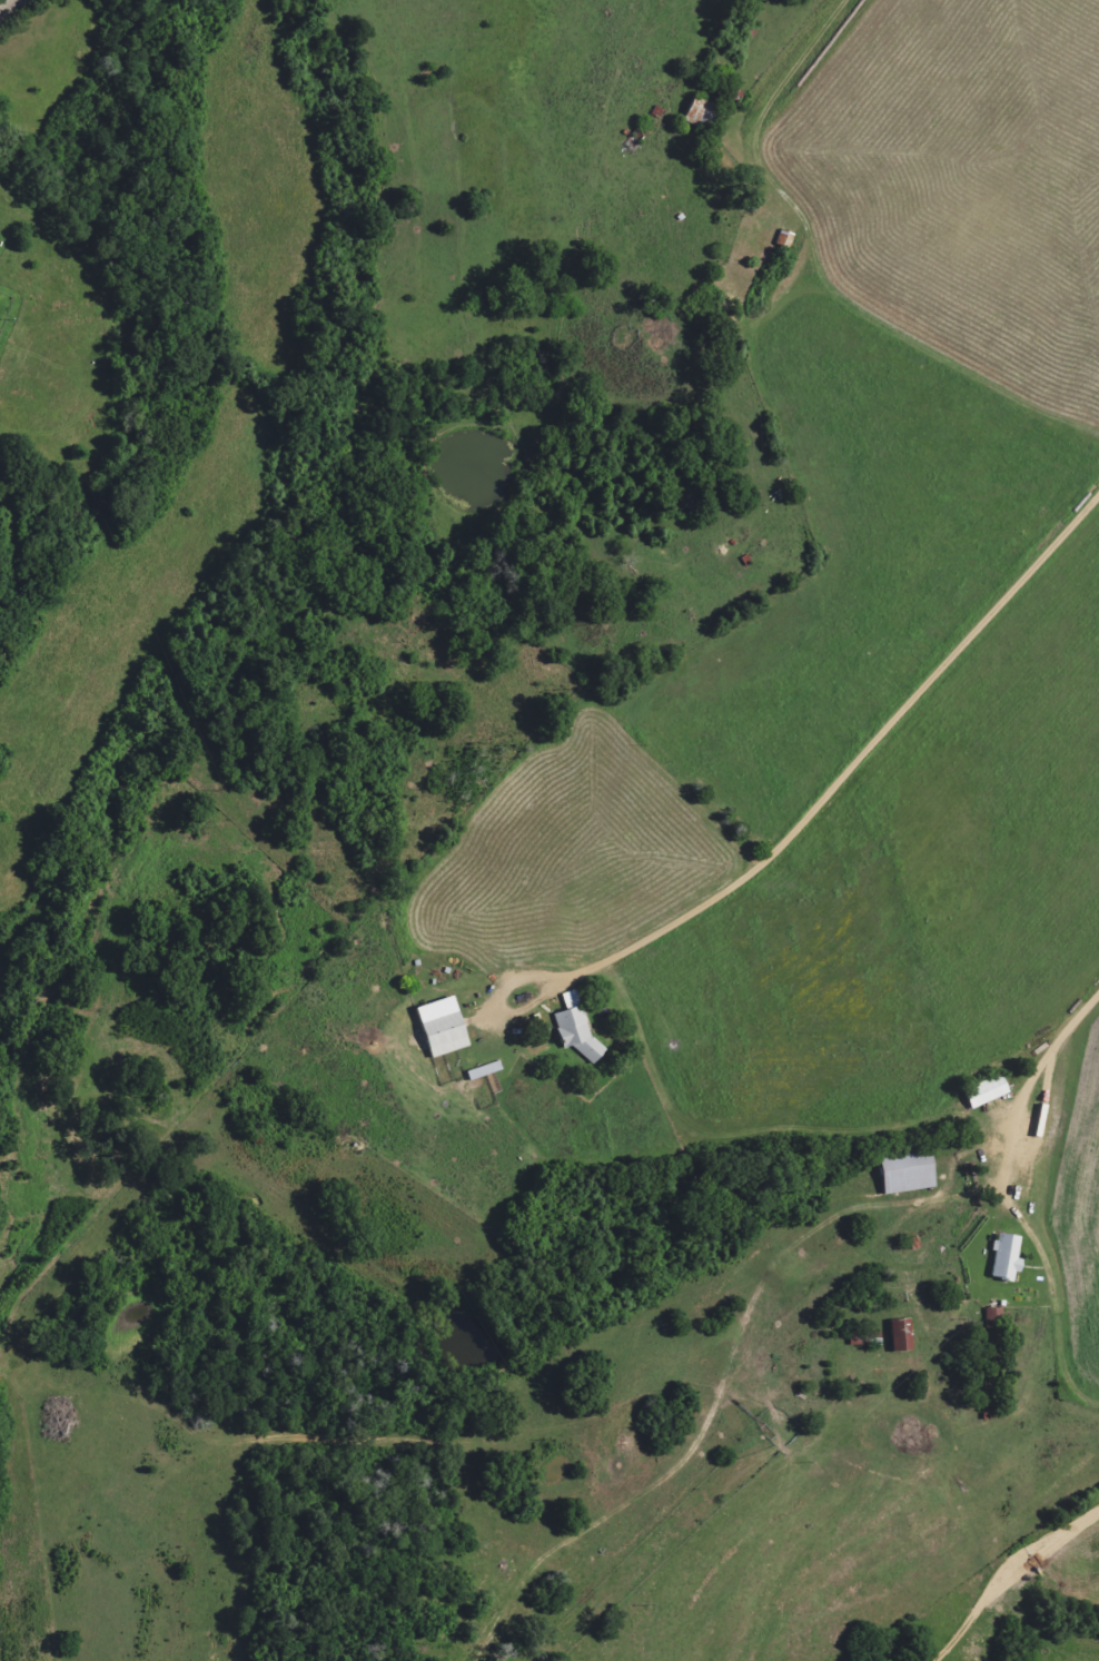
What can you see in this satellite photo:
road: (13, 10)
road: (782, 92)
building: (697, 113)
road: (873, 741)
building: (574, 1025)
building: (438, 1027)
road: (1049, 1054)
building: (983, 1092)
road: (850, 1148)
building: (903, 1174)
building: (1004, 1257)
building: (899, 1335)
road: (983, 1430)

